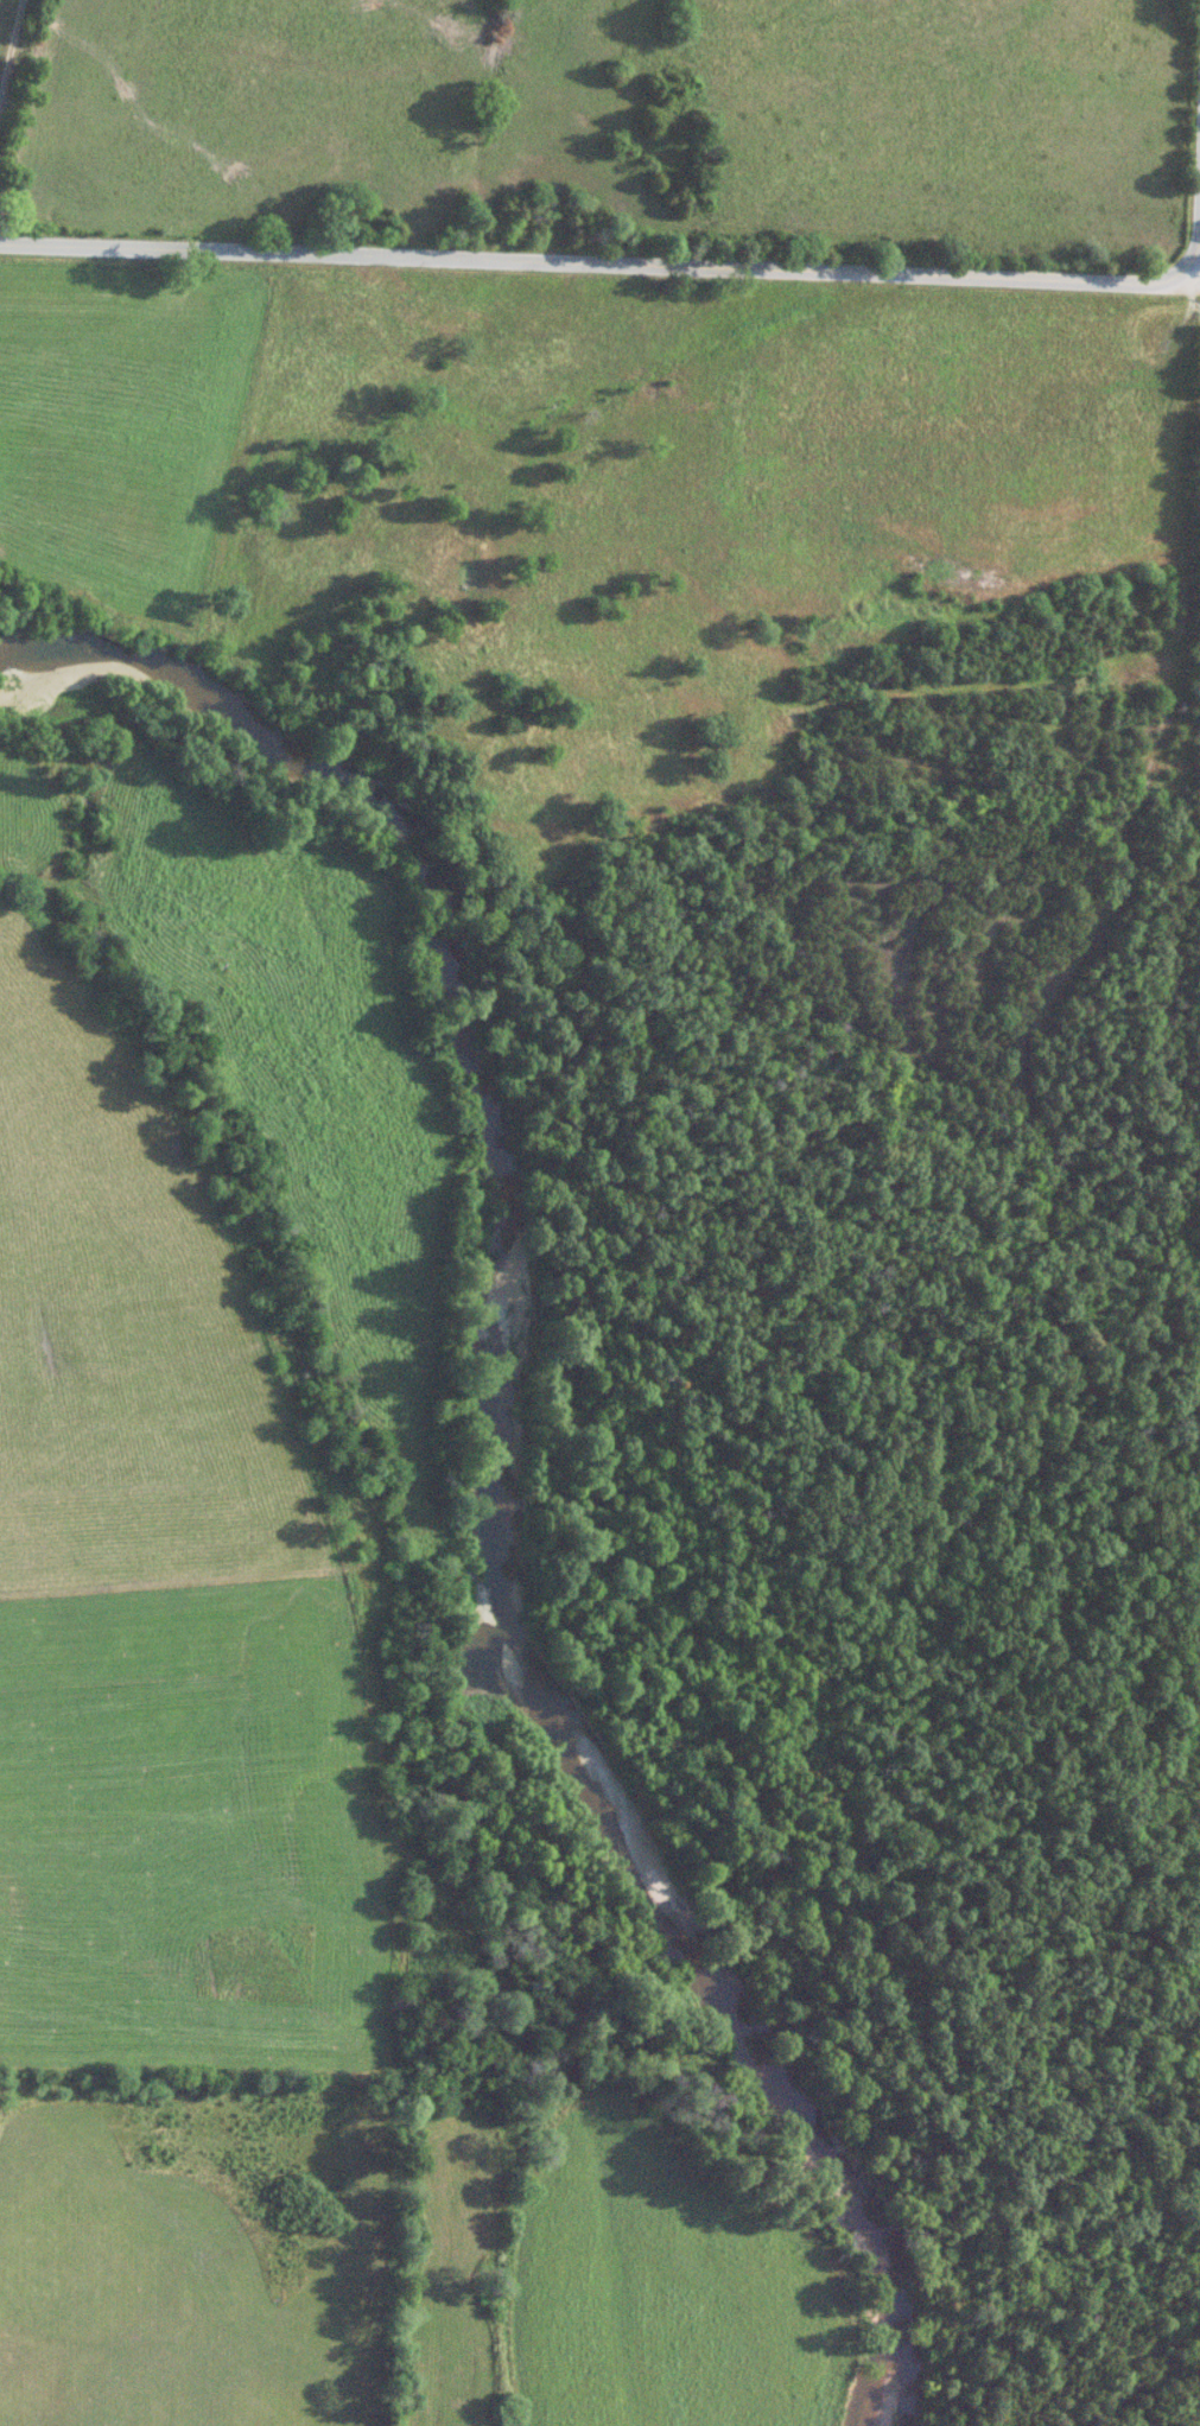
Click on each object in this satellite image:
road: (647, 266)
road: (1195, 269)

